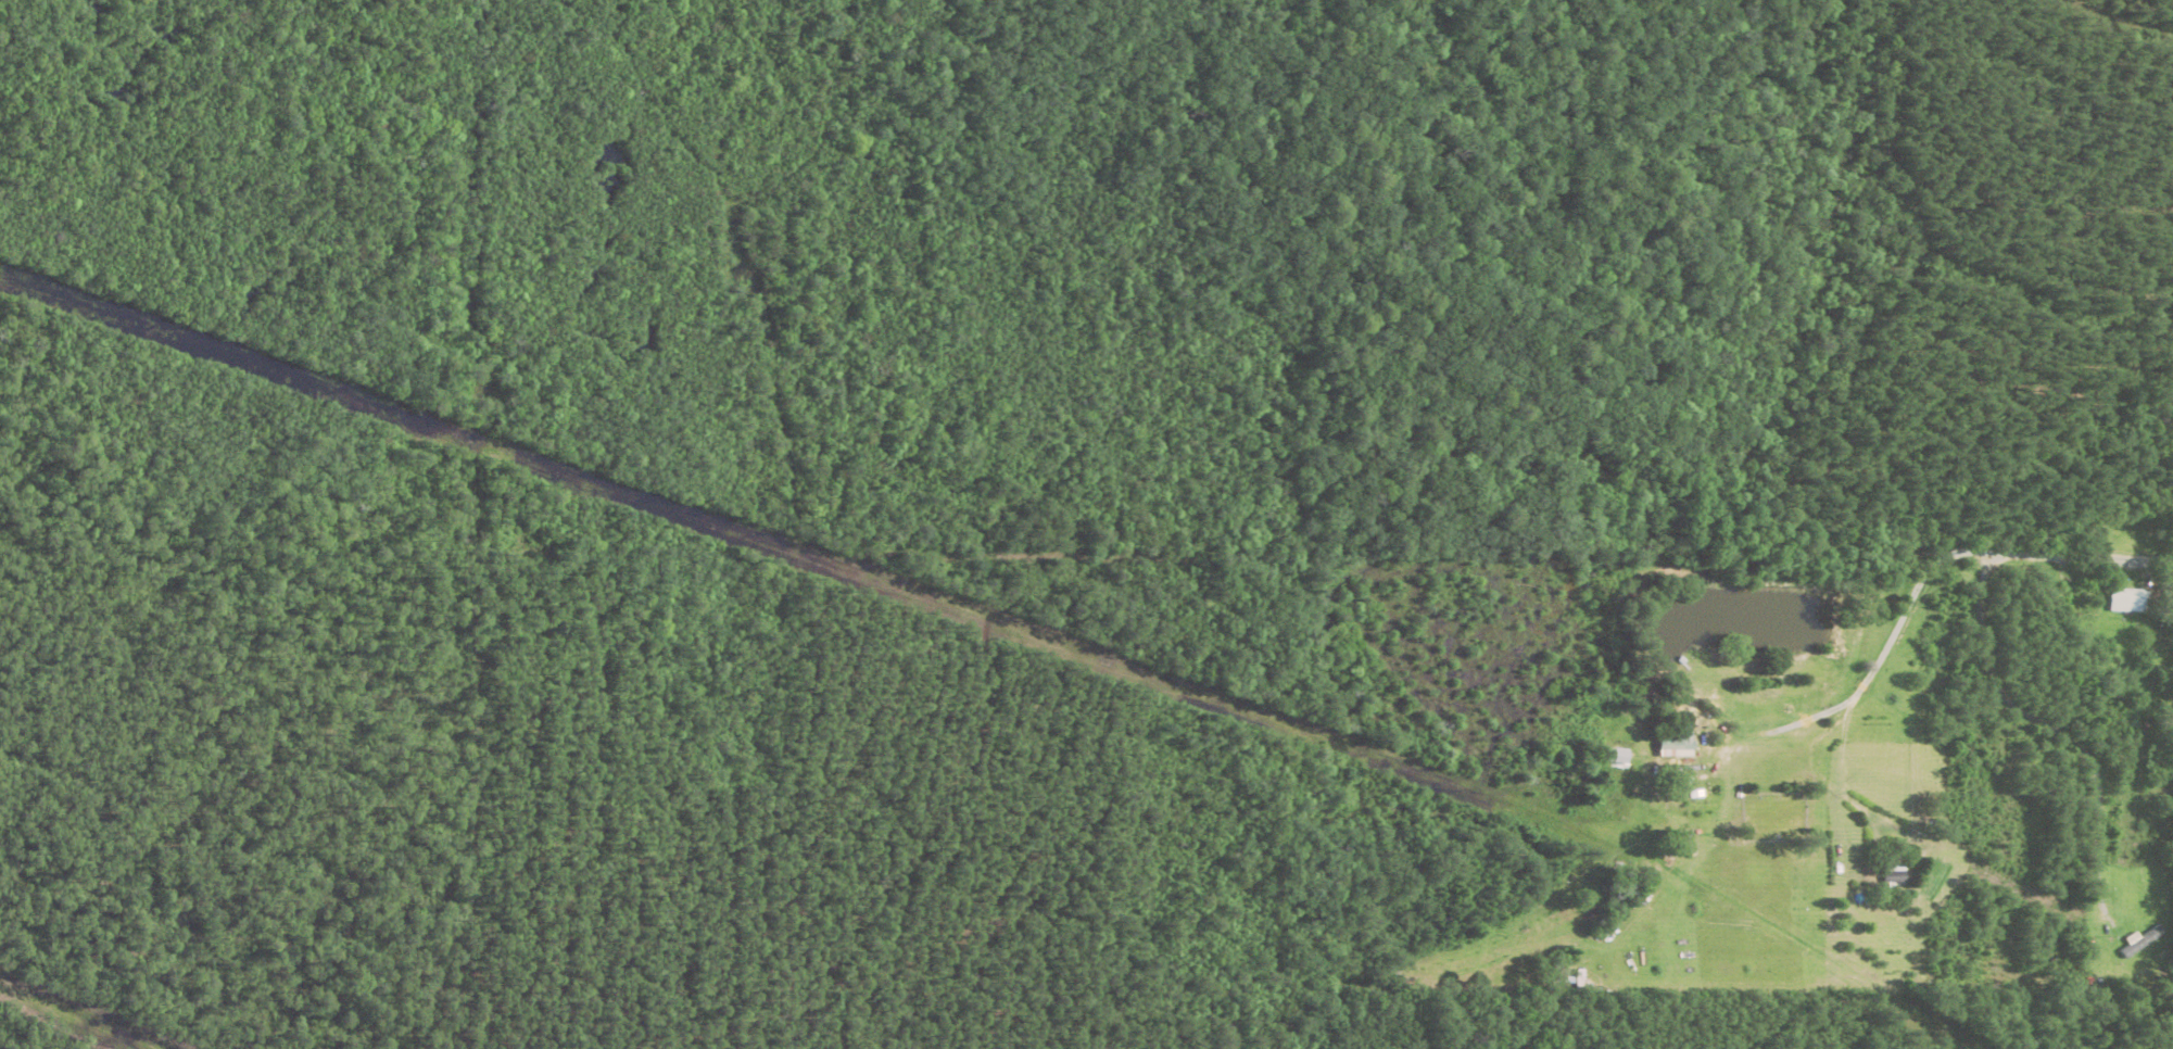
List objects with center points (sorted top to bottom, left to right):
road: (1916, 581)
building: (2122, 601)
road: (2041, 719)
road: (1828, 767)

